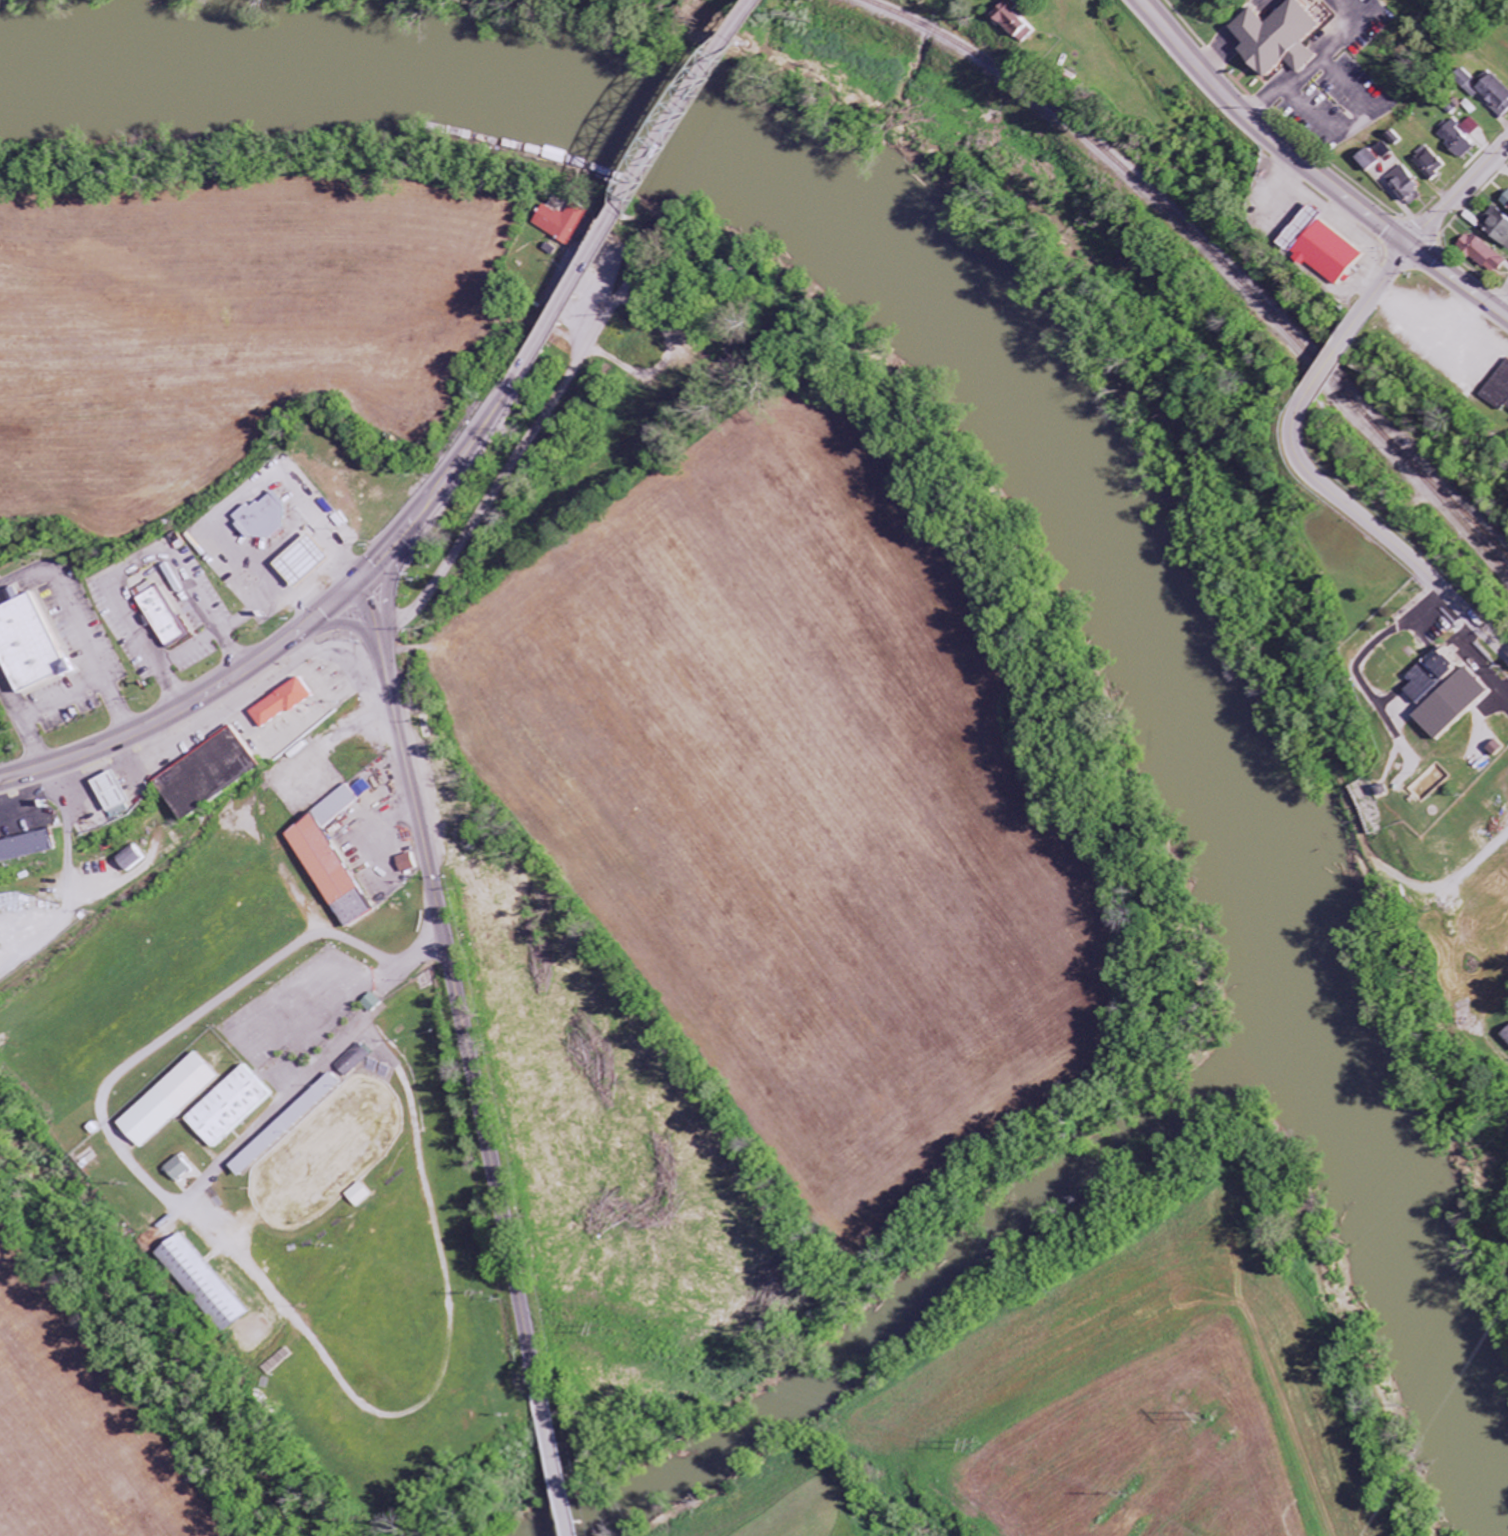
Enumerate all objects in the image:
building: (1022, 20)
road: (1243, 34)
building: (1279, 39)
road: (1337, 70)
building: (1493, 94)
building: (1471, 128)
building: (1456, 140)
building: (1365, 161)
building: (1428, 165)
road: (1317, 172)
building: (1404, 186)
road: (656, 195)
road: (1459, 197)
building: (1504, 201)
building: (571, 223)
building: (1495, 228)
building: (1321, 248)
railway: (1214, 249)
building: (1482, 254)
road: (1379, 292)
road: (1330, 368)
building: (1498, 389)
river: (1056, 412)
road: (539, 422)
road: (471, 451)
building: (272, 518)
road: (1385, 532)
road: (392, 547)
building: (312, 560)
road: (360, 580)
road: (390, 599)
road: (319, 615)
road: (366, 615)
building: (171, 617)
road: (380, 626)
road: (334, 627)
building: (38, 644)
road: (382, 663)
building: (1432, 677)
building: (289, 703)
road: (151, 729)
building: (1497, 748)
building: (214, 774)
building: (119, 791)
building: (341, 805)
building: (29, 850)
building: (131, 859)
building: (412, 863)
building: (336, 872)
building: (1, 947)
building: (373, 1003)
road: (210, 1006)
road: (463, 1035)
building: (1505, 1037)
building: (353, 1060)
building: (173, 1101)
building: (232, 1108)
building: (290, 1125)
building: (182, 1169)
building: (360, 1195)
building: (210, 1284)
road: (553, 1463)

